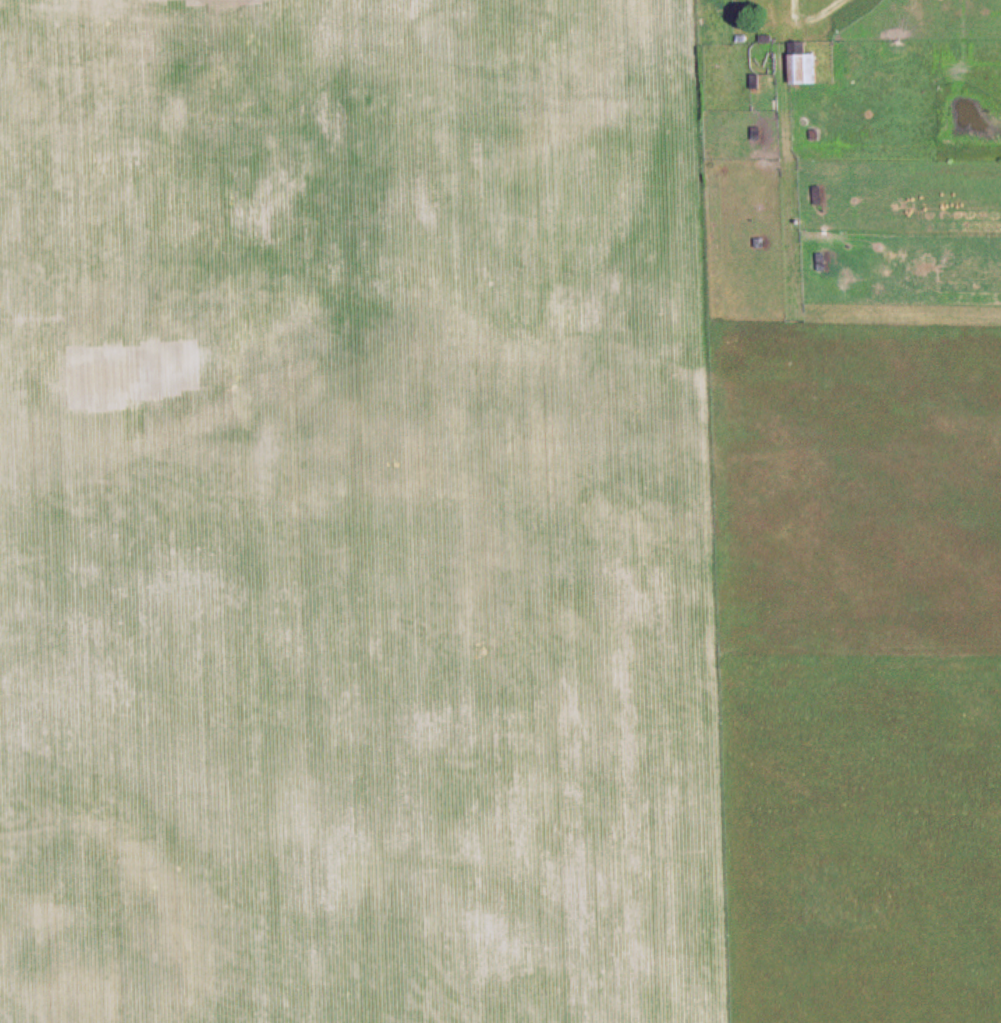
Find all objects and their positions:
building: (801, 64)
building: (817, 195)
building: (821, 261)

